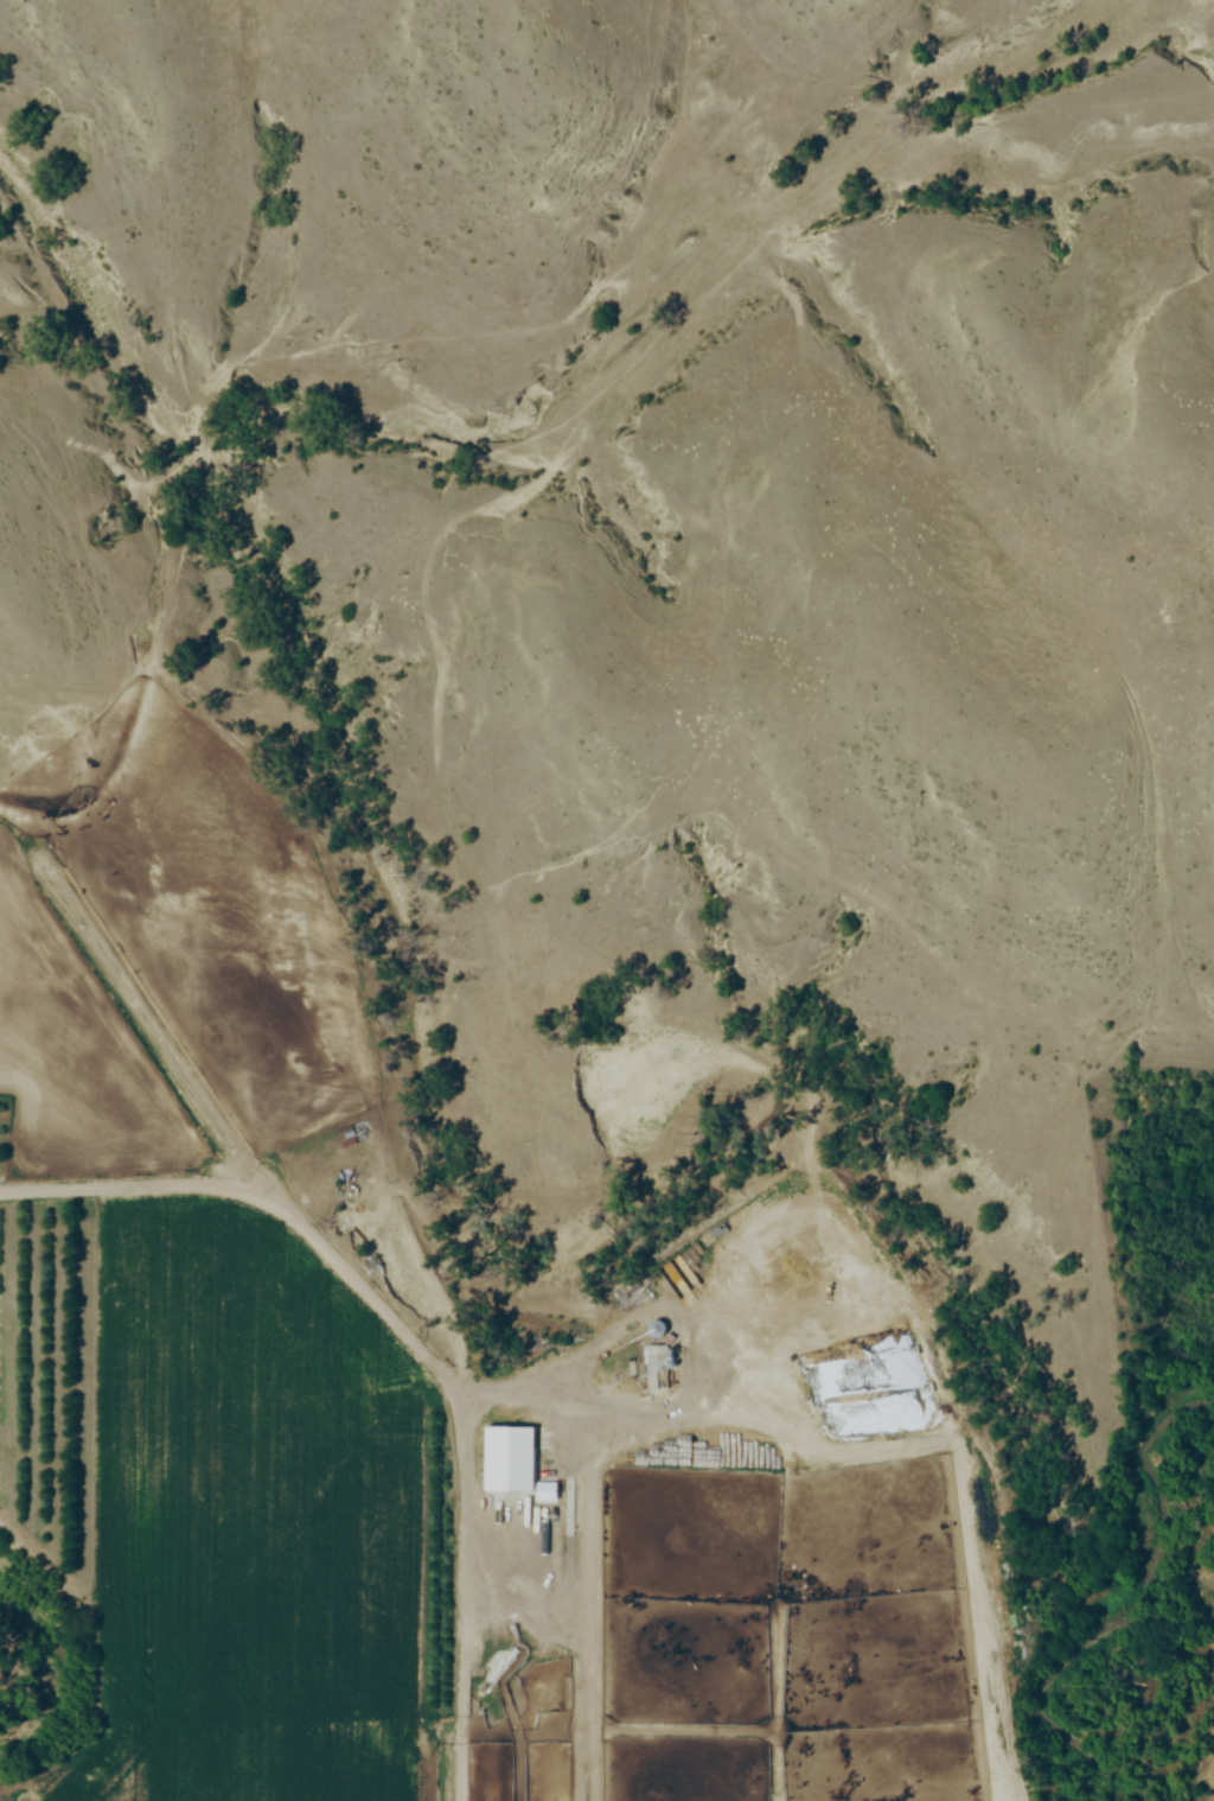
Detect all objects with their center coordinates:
road: (362, 1284)
building: (656, 1361)
road: (562, 1396)
building: (507, 1451)
building: (548, 1493)
crop: (247, 1523)

